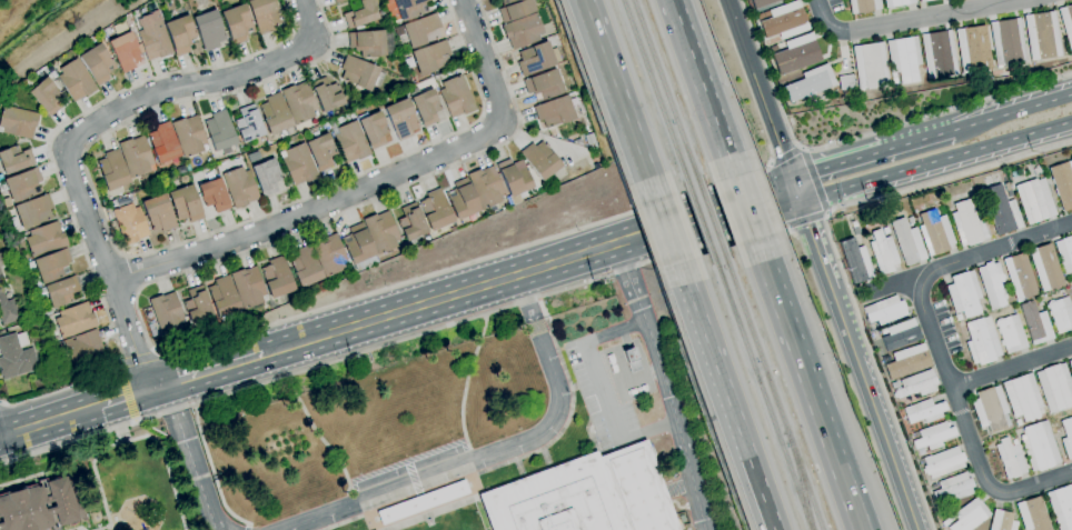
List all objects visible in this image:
building: (334, 0)
building: (923, 0)
building: (337, 1)
building: (896, 2)
building: (765, 3)
building: (863, 6)
building: (405, 9)
building: (515, 9)
building: (359, 13)
building: (264, 14)
building: (784, 20)
road: (911, 20)
building: (237, 23)
building: (1066, 23)
building: (209, 30)
building: (421, 30)
building: (524, 31)
building: (179, 34)
building: (1042, 36)
building: (153, 40)
building: (367, 42)
building: (1008, 42)
building: (972, 49)
building: (126, 51)
building: (768, 51)
building: (796, 53)
building: (939, 54)
building: (431, 57)
building: (537, 58)
building: (903, 59)
building: (97, 63)
building: (871, 67)
building: (360, 73)
building: (76, 80)
building: (810, 83)
building: (845, 84)
building: (544, 86)
road: (702, 88)
road: (757, 89)
railway: (666, 93)
building: (327, 94)
railway: (655, 94)
building: (46, 96)
building: (456, 97)
road: (619, 100)
building: (299, 102)
building: (425, 106)
building: (555, 111)
building: (276, 116)
building: (401, 119)
road: (982, 120)
building: (17, 122)
road: (1066, 123)
building: (248, 124)
road: (87, 129)
building: (373, 129)
building: (219, 131)
building: (188, 136)
road: (860, 136)
building: (590, 139)
building: (351, 142)
building: (578, 142)
building: (163, 143)
building: (320, 150)
building: (136, 157)
road: (787, 157)
building: (14, 159)
building: (540, 160)
building: (298, 163)
road: (841, 163)
road: (931, 163)
building: (181, 169)
road: (53, 170)
building: (112, 170)
building: (1, 177)
building: (266, 177)
building: (514, 179)
traffic signals: (791, 179)
building: (143, 180)
building: (1062, 183)
building: (21, 184)
road: (368, 184)
building: (239, 187)
building: (486, 187)
road: (795, 190)
building: (1008, 190)
building: (214, 196)
building: (461, 200)
building: (1034, 200)
building: (122, 201)
traffic signals: (800, 202)
building: (186, 203)
road: (693, 207)
road: (746, 208)
building: (435, 210)
building: (1000, 210)
building: (33, 211)
building: (158, 213)
railway: (711, 218)
building: (911, 220)
railway: (699, 221)
building: (410, 222)
road: (810, 222)
building: (129, 223)
building: (969, 223)
building: (854, 228)
building: (454, 229)
building: (885, 230)
road: (666, 231)
road: (701, 231)
building: (380, 232)
building: (934, 232)
building: (44, 239)
building: (906, 242)
building: (358, 248)
road: (159, 249)
road: (817, 252)
road: (835, 252)
building: (883, 252)
building: (1064, 253)
building: (328, 254)
road: (121, 256)
building: (1, 260)
building: (856, 261)
road: (553, 263)
building: (52, 266)
building: (1045, 267)
building: (305, 269)
road: (128, 274)
building: (1071, 274)
building: (1020, 277)
building: (1, 278)
building: (276, 278)
building: (1069, 282)
road: (893, 283)
building: (992, 283)
building: (248, 287)
building: (60, 291)
road: (137, 293)
building: (963, 293)
building: (224, 297)
building: (1071, 299)
building: (197, 306)
building: (7, 310)
building: (884, 310)
building: (167, 314)
building: (1060, 314)
road: (386, 316)
building: (75, 320)
building: (1035, 323)
building: (1010, 333)
building: (900, 334)
road: (398, 340)
building: (981, 341)
building: (83, 348)
road: (937, 350)
road: (179, 353)
building: (16, 356)
building: (632, 358)
building: (885, 359)
road: (140, 360)
road: (713, 361)
building: (907, 361)
building: (1070, 364)
road: (1011, 367)
road: (208, 371)
road: (667, 382)
road: (807, 384)
building: (916, 384)
road: (464, 386)
parking lot: (616, 386)
building: (1055, 387)
road: (603, 389)
railway: (771, 389)
railway: (762, 391)
road: (126, 393)
building: (1022, 398)
road: (117, 400)
road: (569, 410)
building: (990, 410)
building: (922, 411)
road: (876, 417)
road: (43, 423)
building: (933, 436)
building: (1066, 437)
road: (321, 440)
building: (1039, 447)
road: (494, 452)
road: (189, 458)
building: (1012, 458)
road: (545, 459)
road: (407, 461)
building: (943, 462)
road: (553, 467)
road: (519, 469)
road: (212, 471)
road: (467, 473)
road: (413, 477)
railway: (800, 483)
building: (954, 488)
road: (761, 494)
building: (584, 496)
building: (421, 502)
building: (40, 507)
building: (1061, 507)
road: (486, 514)
building: (1032, 514)
building: (970, 516)
building: (947, 521)
building: (1002, 521)
road: (340, 522)
road: (246, 529)

